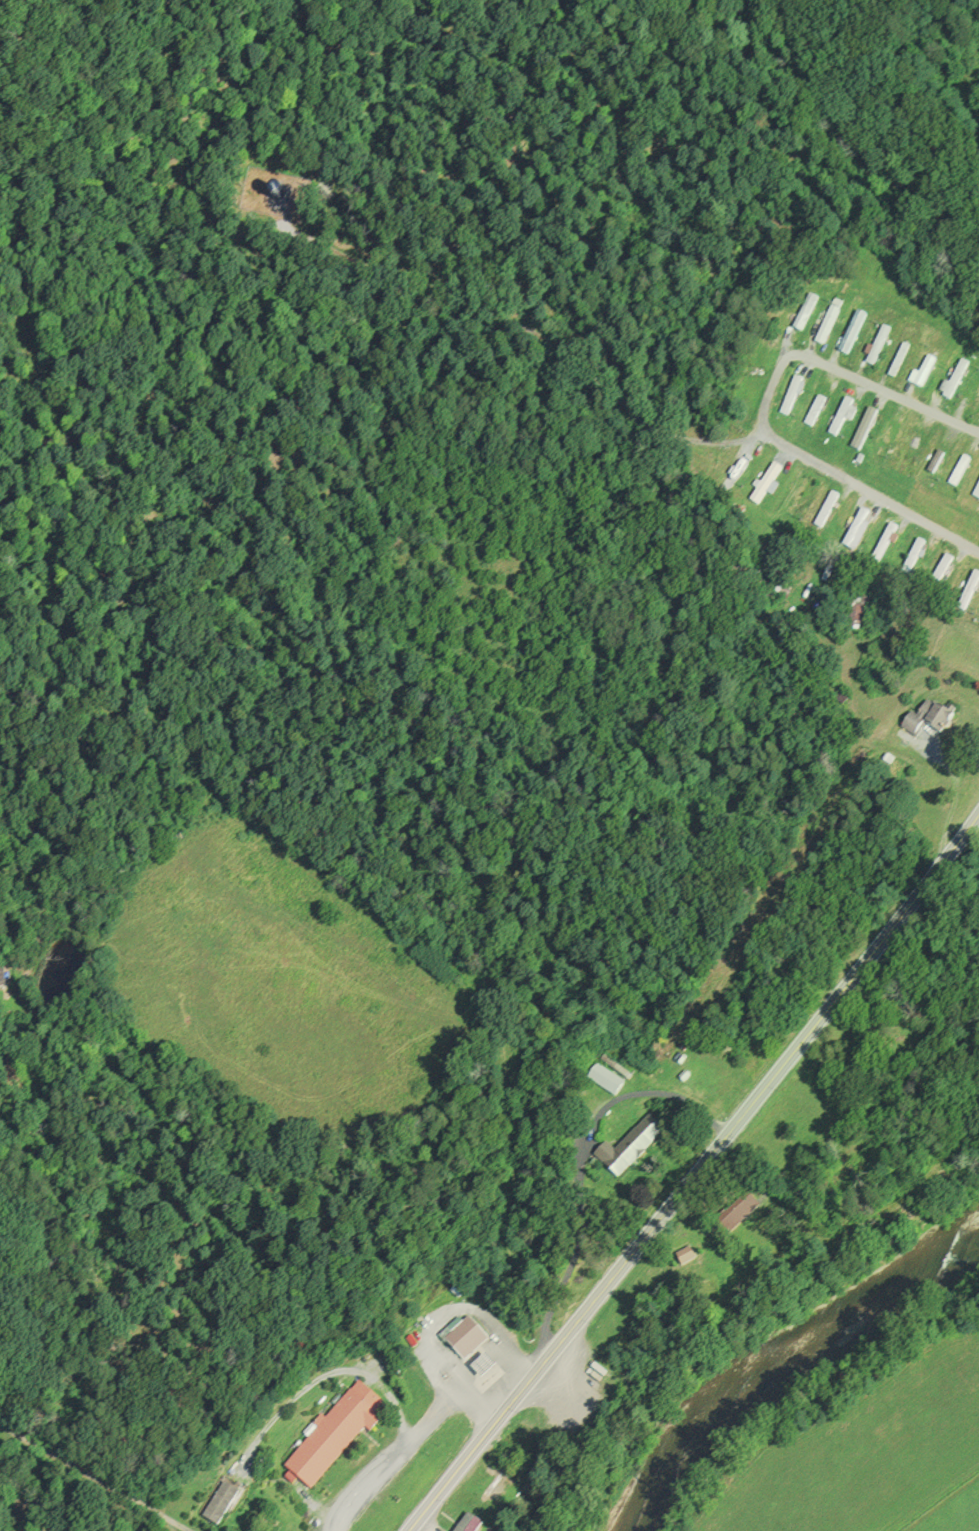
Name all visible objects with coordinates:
building: (807, 315)
building: (830, 327)
building: (854, 335)
building: (879, 347)
building: (901, 362)
building: (924, 375)
building: (955, 382)
building: (793, 398)
building: (975, 403)
road: (765, 410)
building: (817, 413)
building: (842, 418)
building: (866, 429)
building: (888, 443)
building: (937, 463)
building: (961, 473)
building: (734, 477)
building: (768, 486)
building: (977, 495)
building: (799, 498)
building: (828, 511)
building: (858, 530)
building: (886, 544)
building: (914, 558)
building: (941, 575)
building: (970, 593)
building: (782, 594)
building: (928, 720)
road: (493, 1039)
building: (606, 1082)
building: (630, 1149)
road: (700, 1177)
building: (738, 1217)
building: (687, 1260)
building: (465, 1340)
river: (788, 1363)
road: (412, 1432)
building: (337, 1436)
building: (222, 1503)
crop: (951, 1510)
building: (471, 1524)

